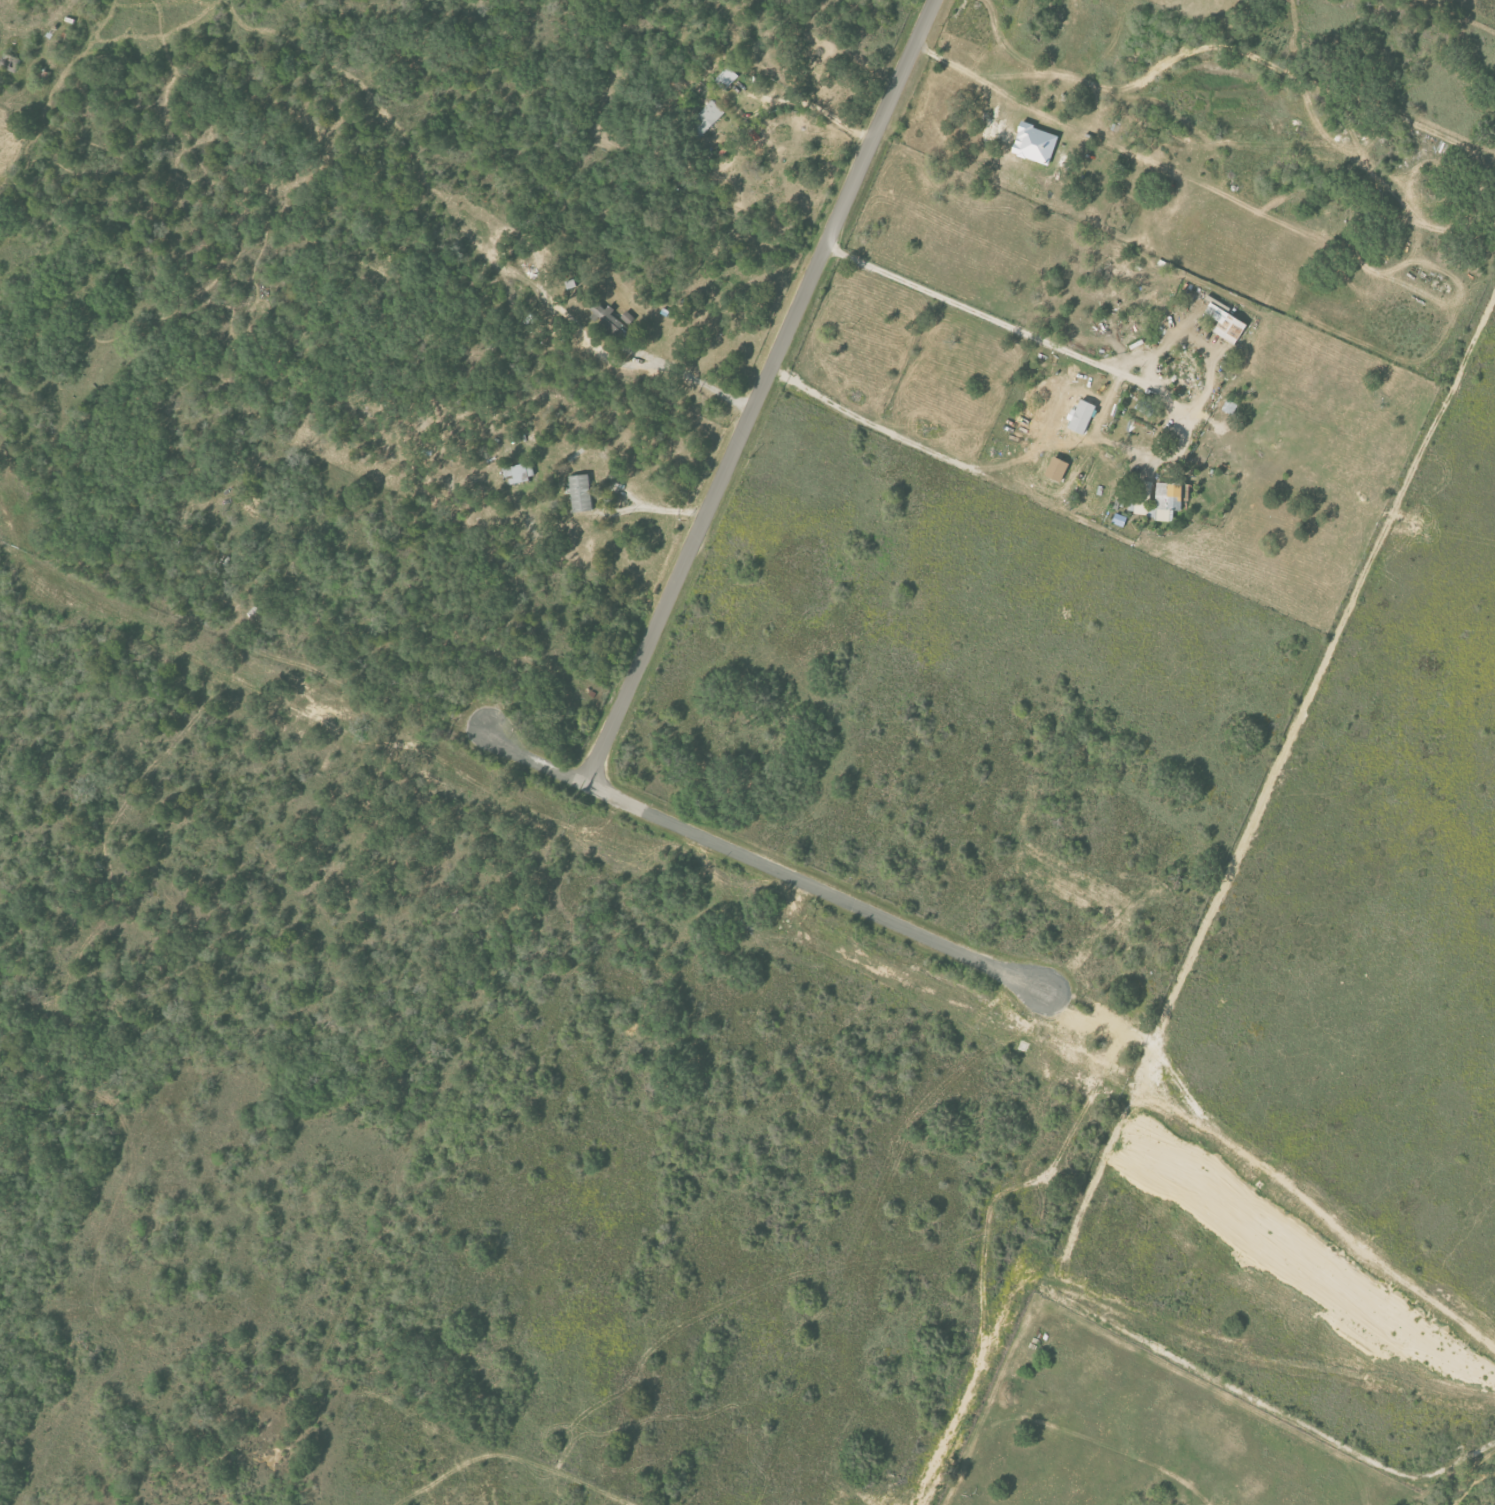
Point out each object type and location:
building: (727, 78)
road: (989, 85)
road: (818, 112)
building: (709, 117)
building: (1036, 143)
building: (614, 320)
building: (1231, 328)
road: (1019, 331)
road: (676, 370)
road: (761, 392)
building: (1083, 416)
road: (867, 421)
building: (1059, 469)
building: (517, 473)
building: (1189, 489)
building: (582, 493)
road: (629, 510)
road: (764, 865)

